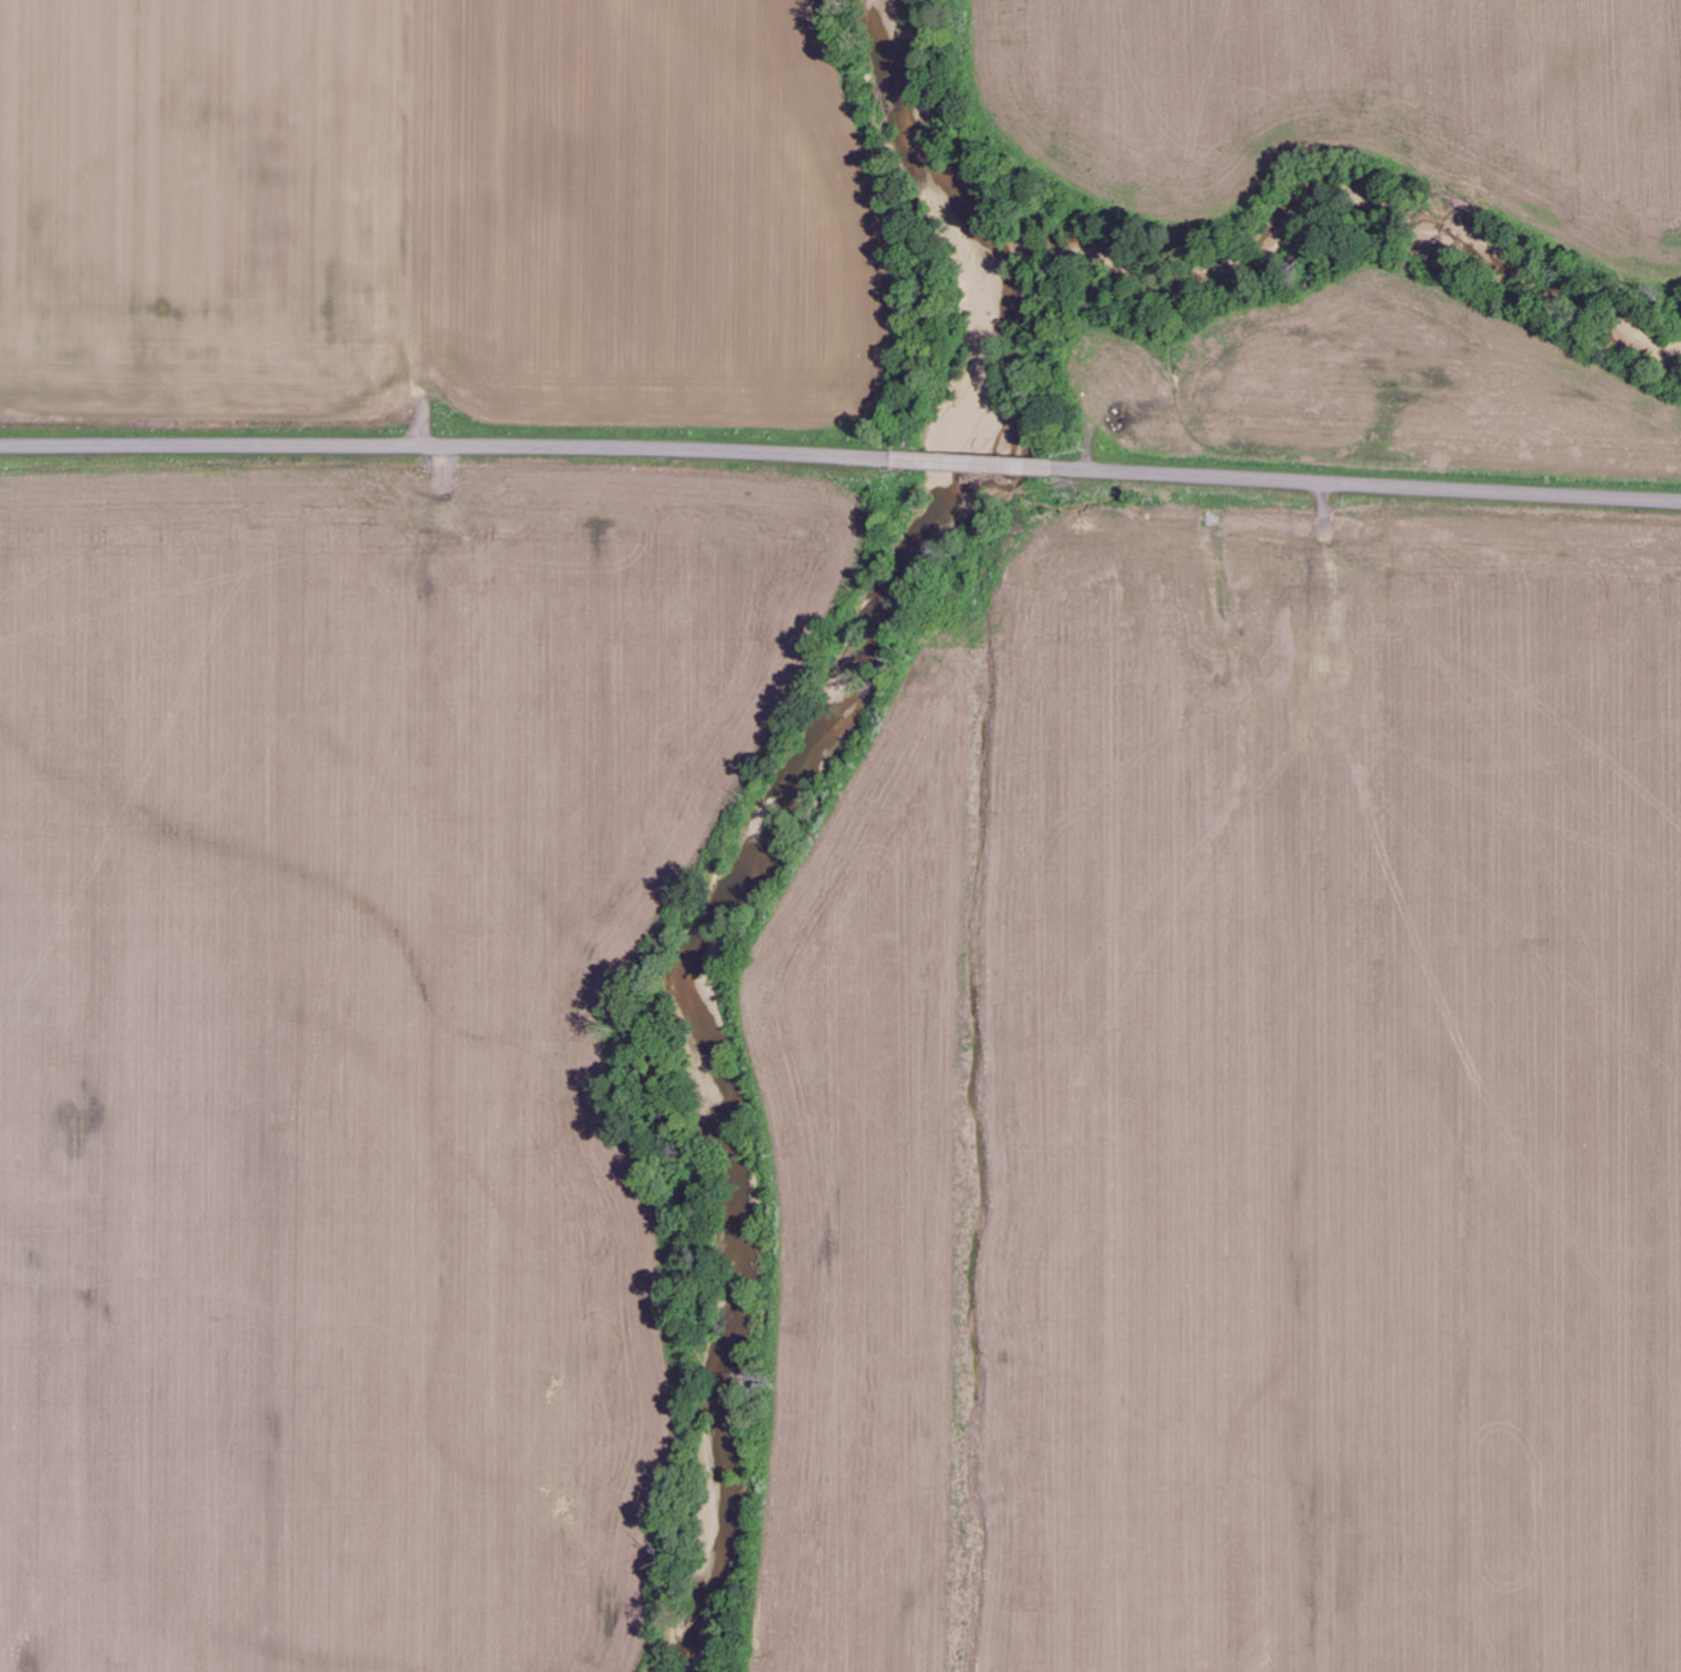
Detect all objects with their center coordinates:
road: (446, 447)
road: (972, 464)
road: (1366, 484)

